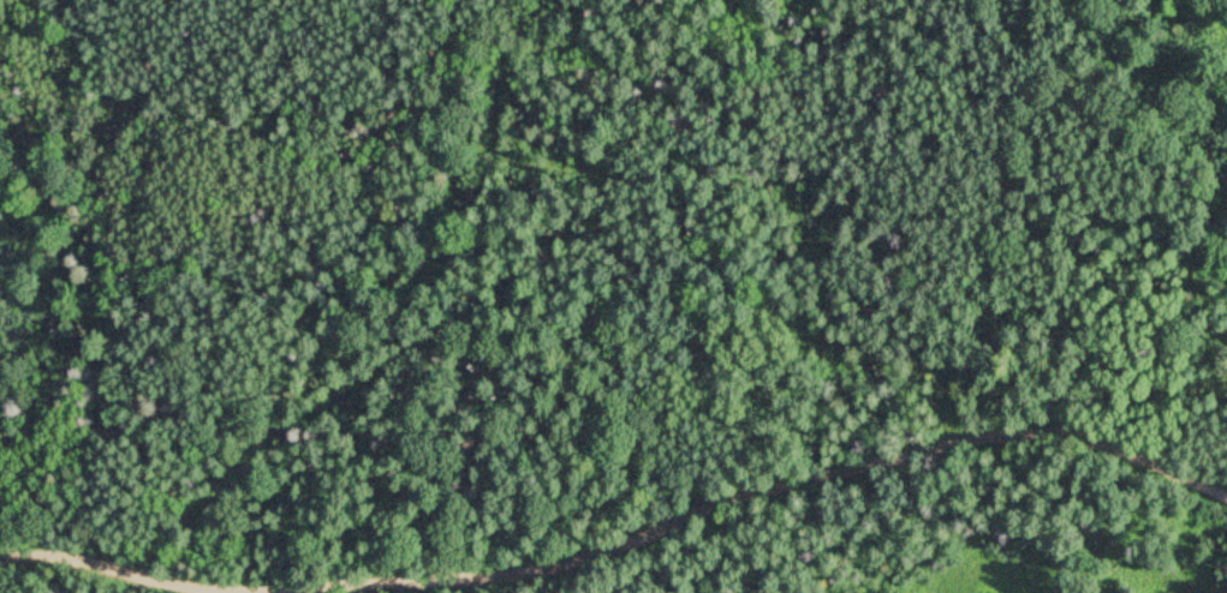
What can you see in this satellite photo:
park: (613, 296)
road: (623, 535)

